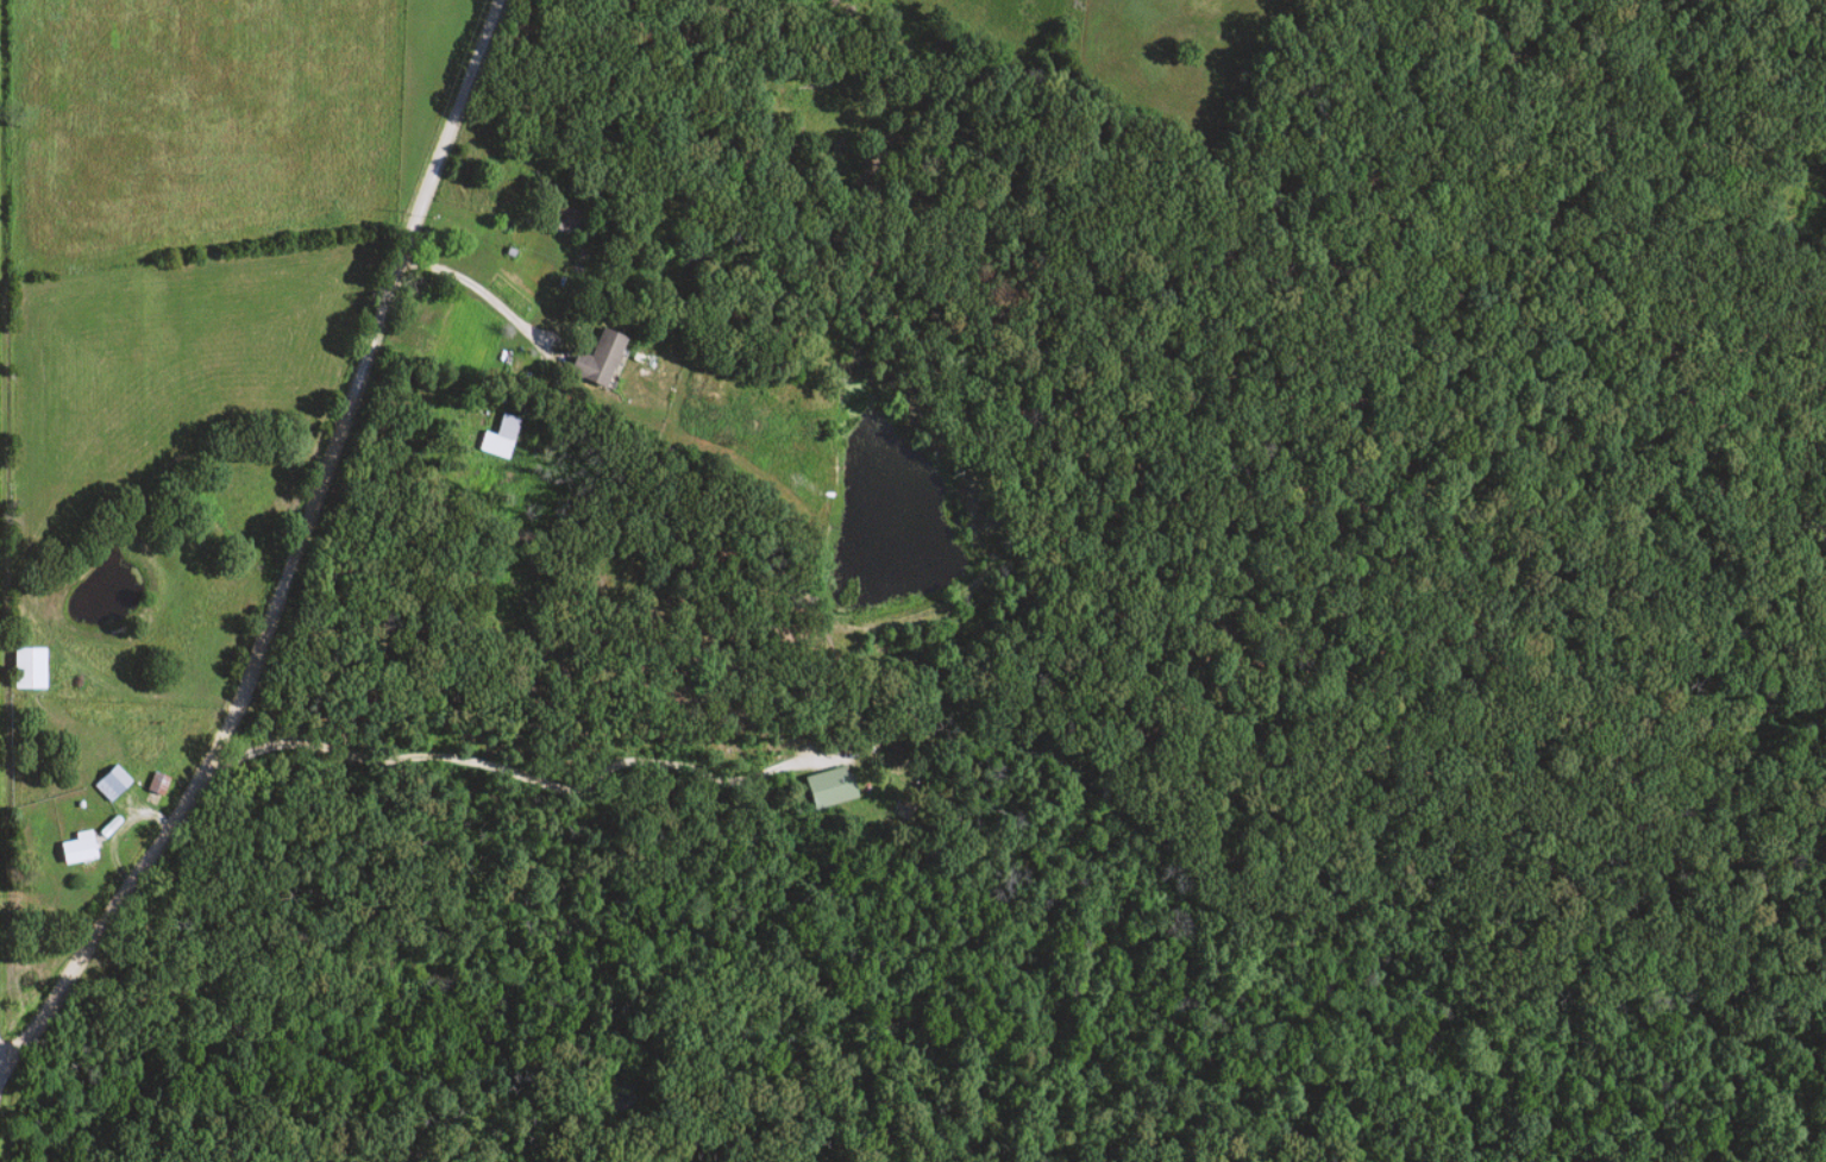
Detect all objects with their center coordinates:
road: (472, 288)
building: (594, 360)
building: (502, 428)
road: (291, 552)
building: (15, 667)
road: (506, 771)
building: (107, 784)
building: (153, 785)
building: (822, 787)
building: (73, 850)

